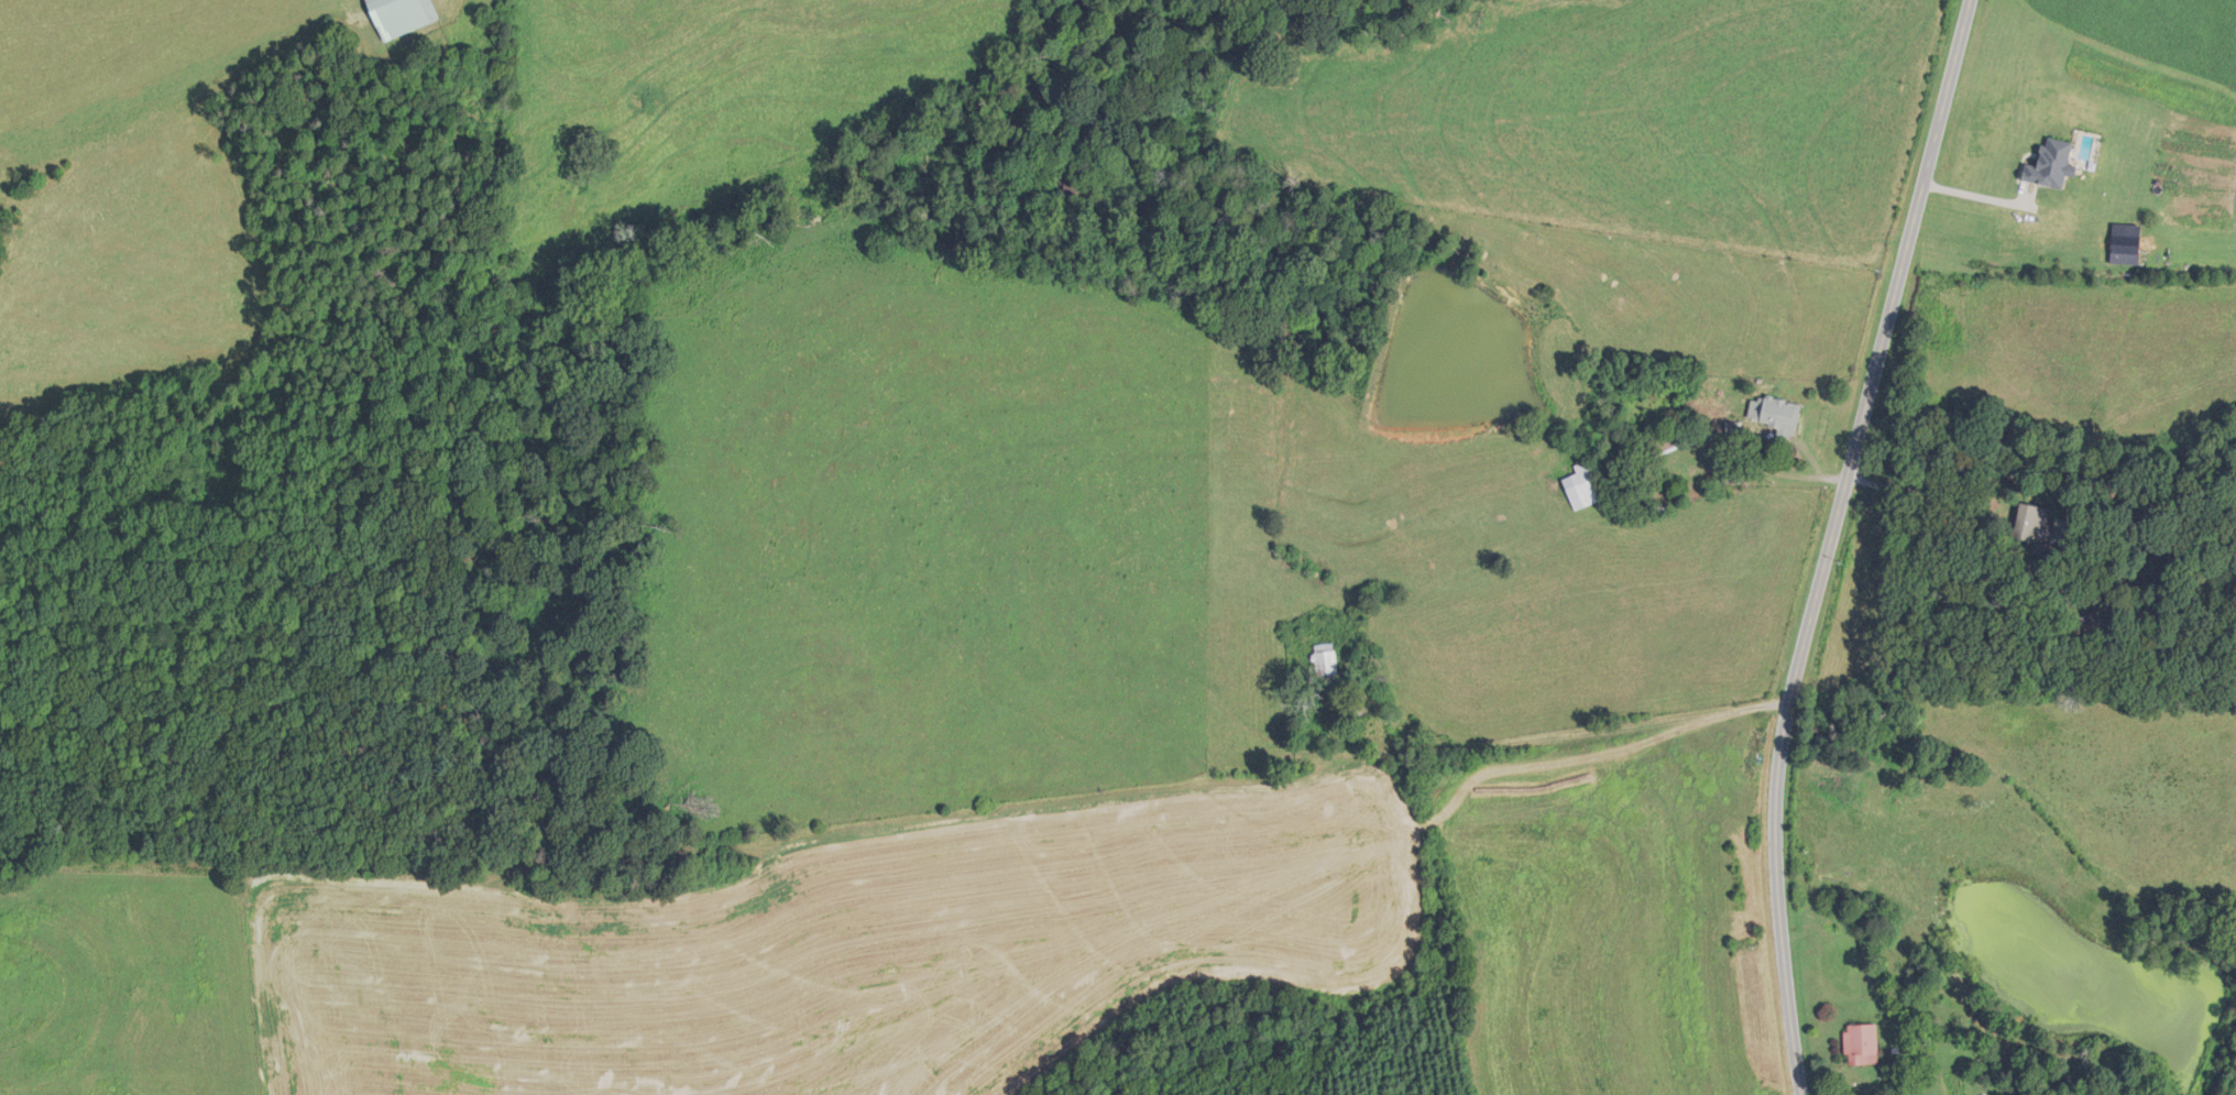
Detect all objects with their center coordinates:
building: (401, 15)
road: (1983, 196)
building: (1777, 416)
building: (1733, 436)
road: (1728, 461)
building: (1582, 486)
road: (1942, 508)
building: (2034, 523)
road: (1826, 543)
building: (2091, 632)
building: (1326, 663)
road: (1583, 729)
building: (1861, 1044)

